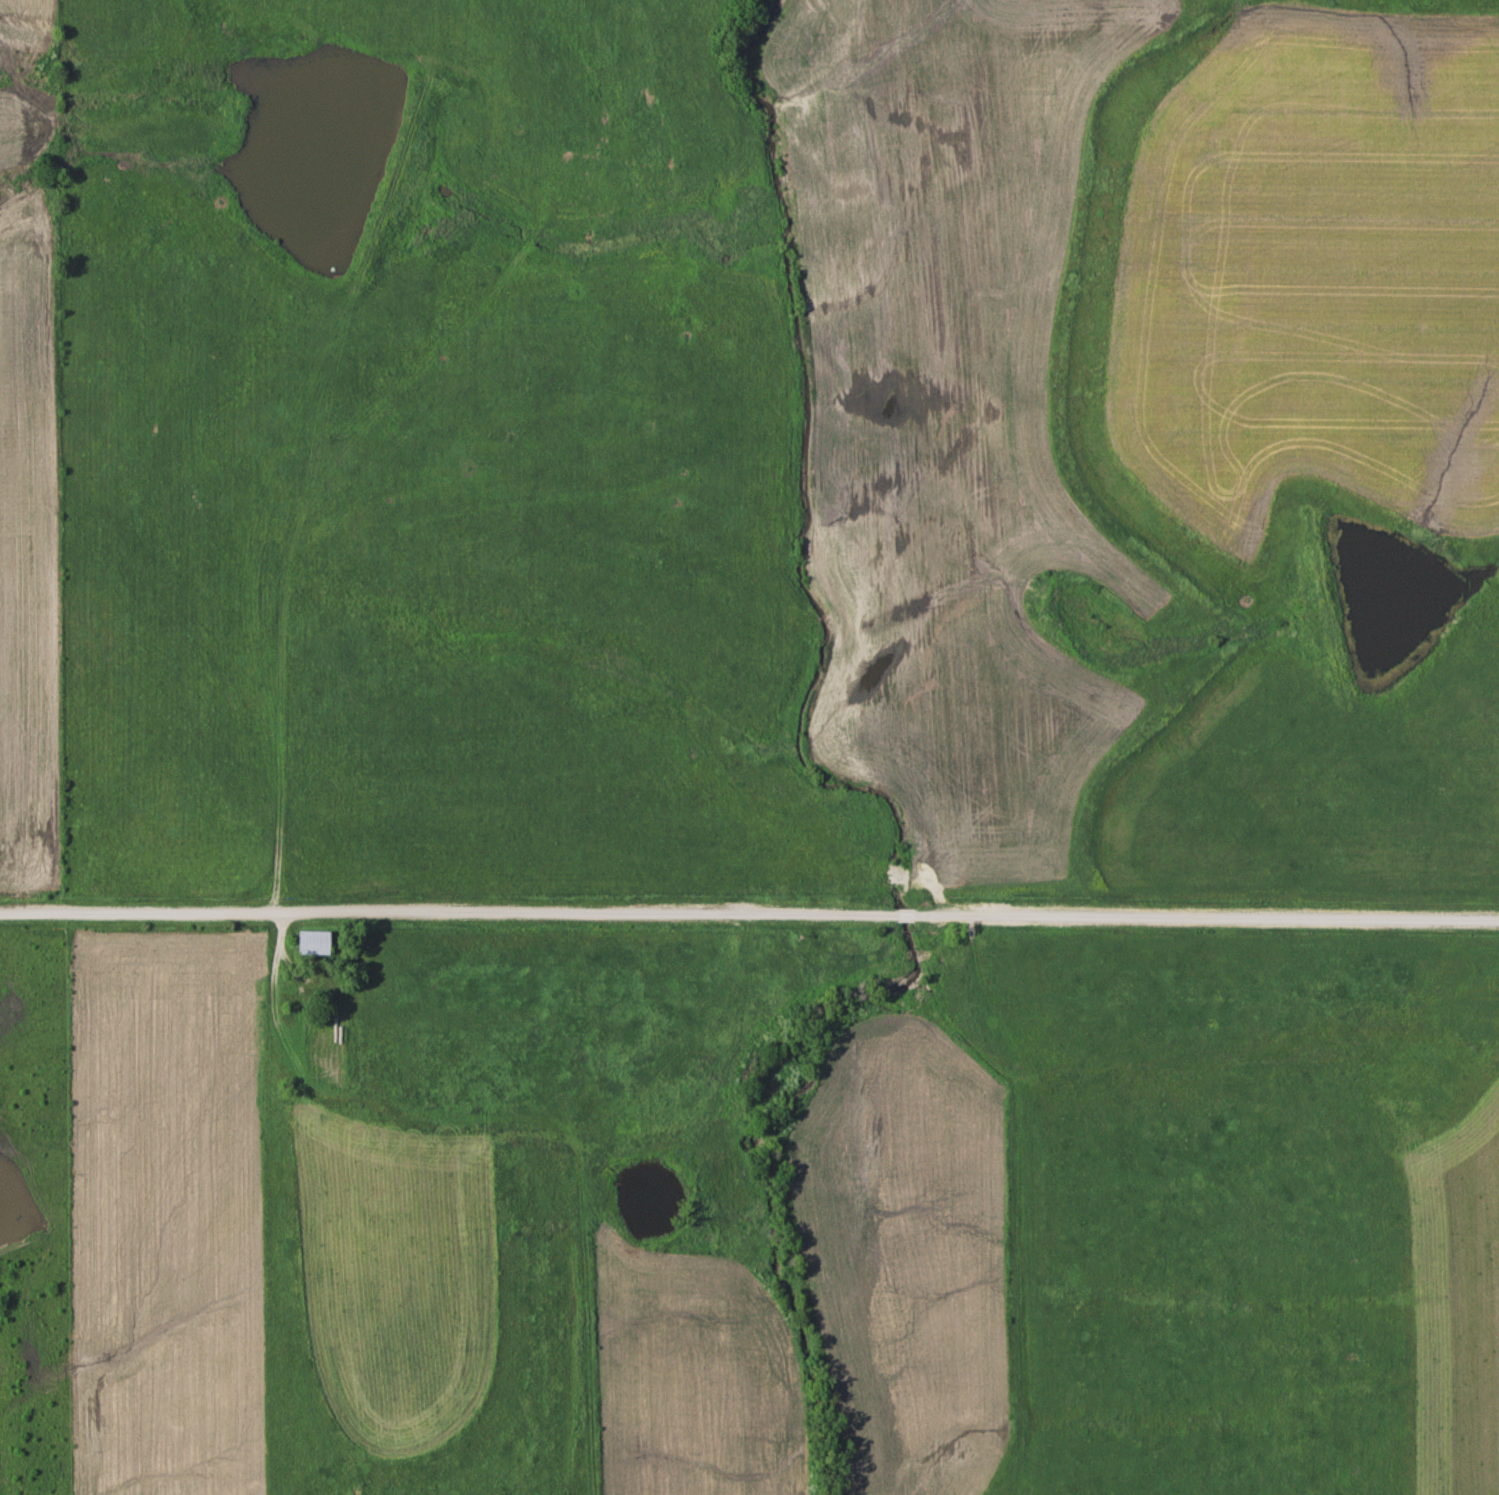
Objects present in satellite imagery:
road: (749, 913)
building: (309, 942)

